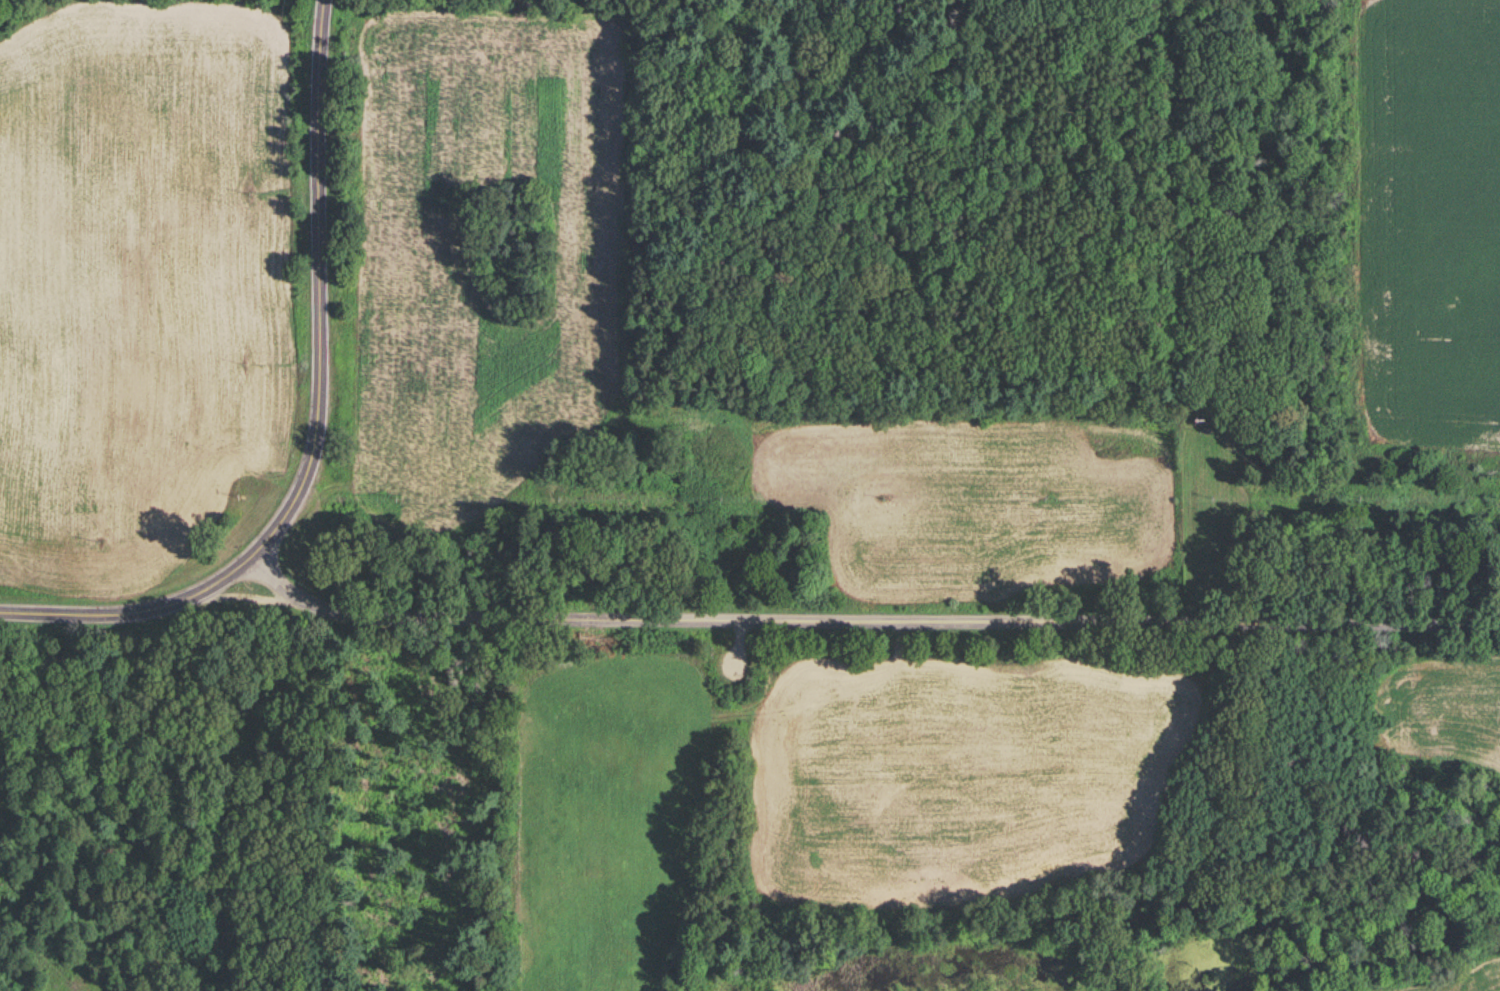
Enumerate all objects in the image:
road: (320, 288)
road: (135, 615)
road: (867, 624)

